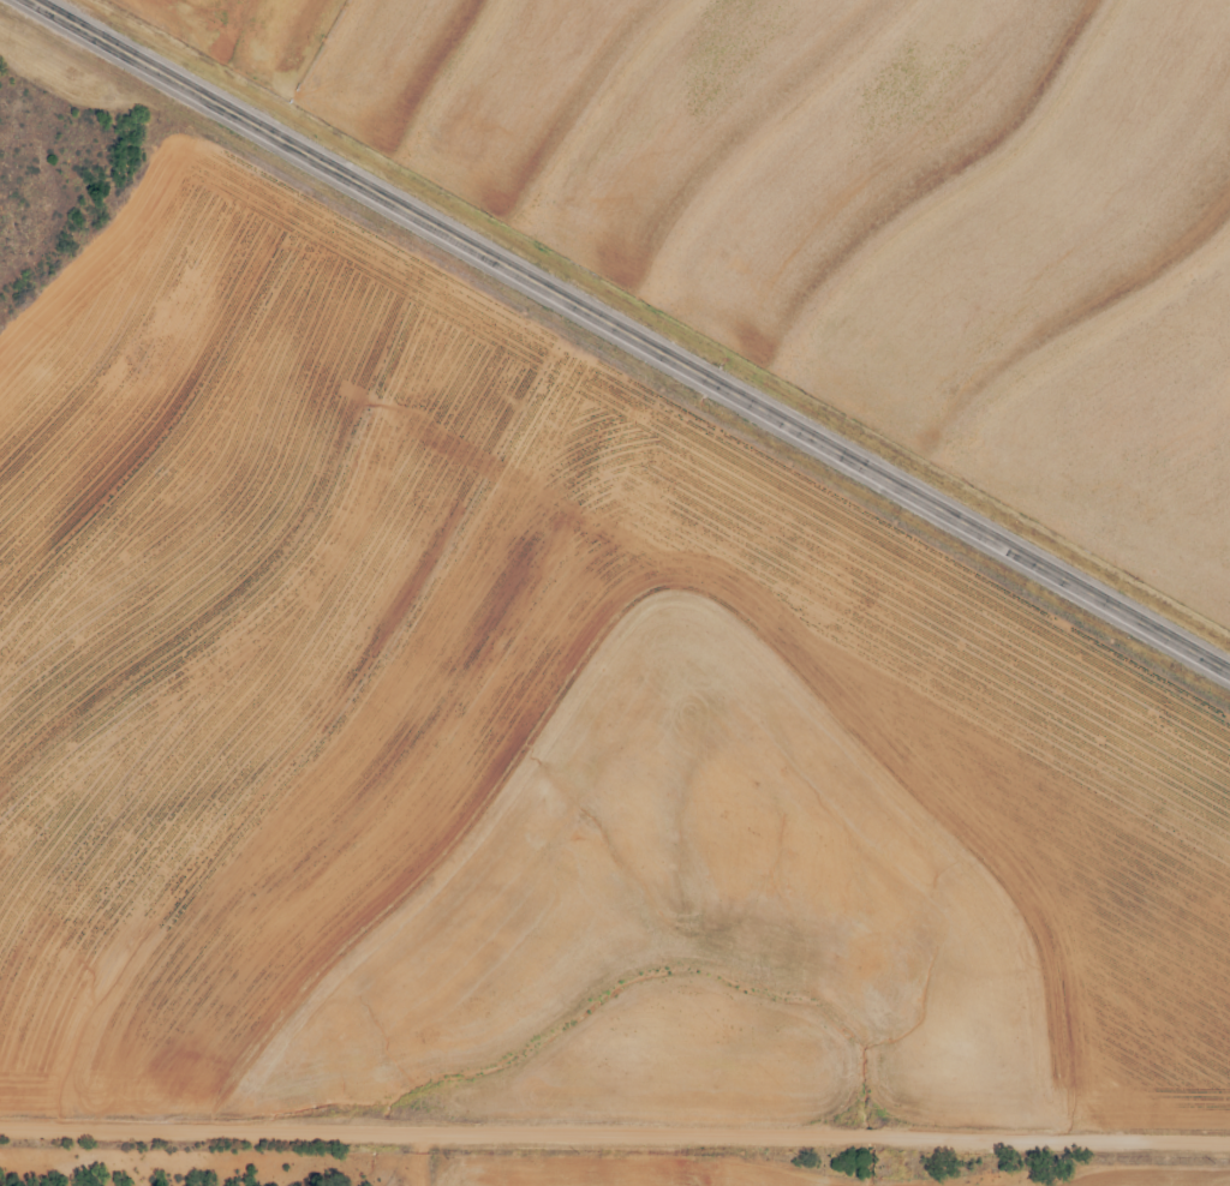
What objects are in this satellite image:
road: (634, 333)
road: (615, 1133)
road: (449, 1160)

